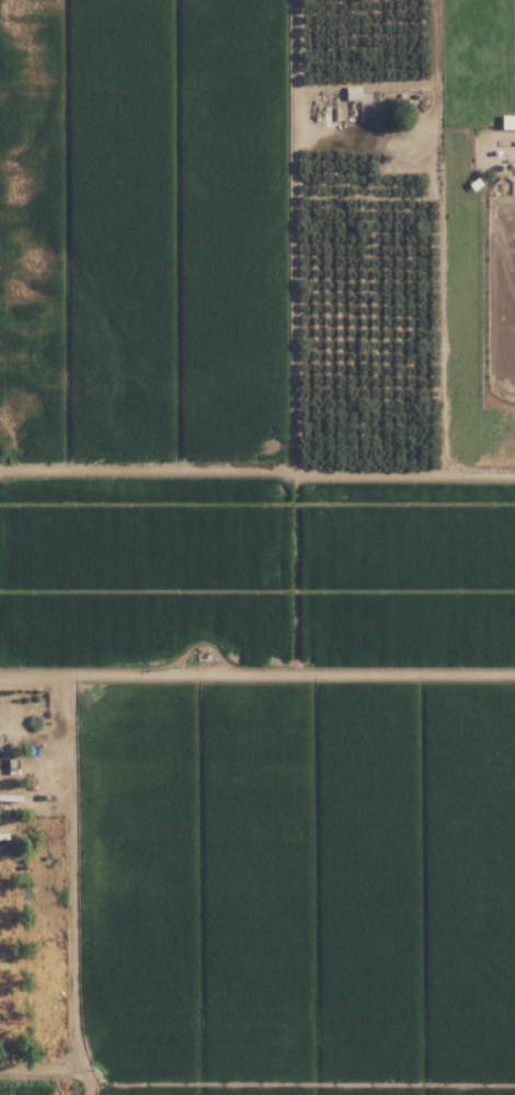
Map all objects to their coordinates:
road: (24, 676)

